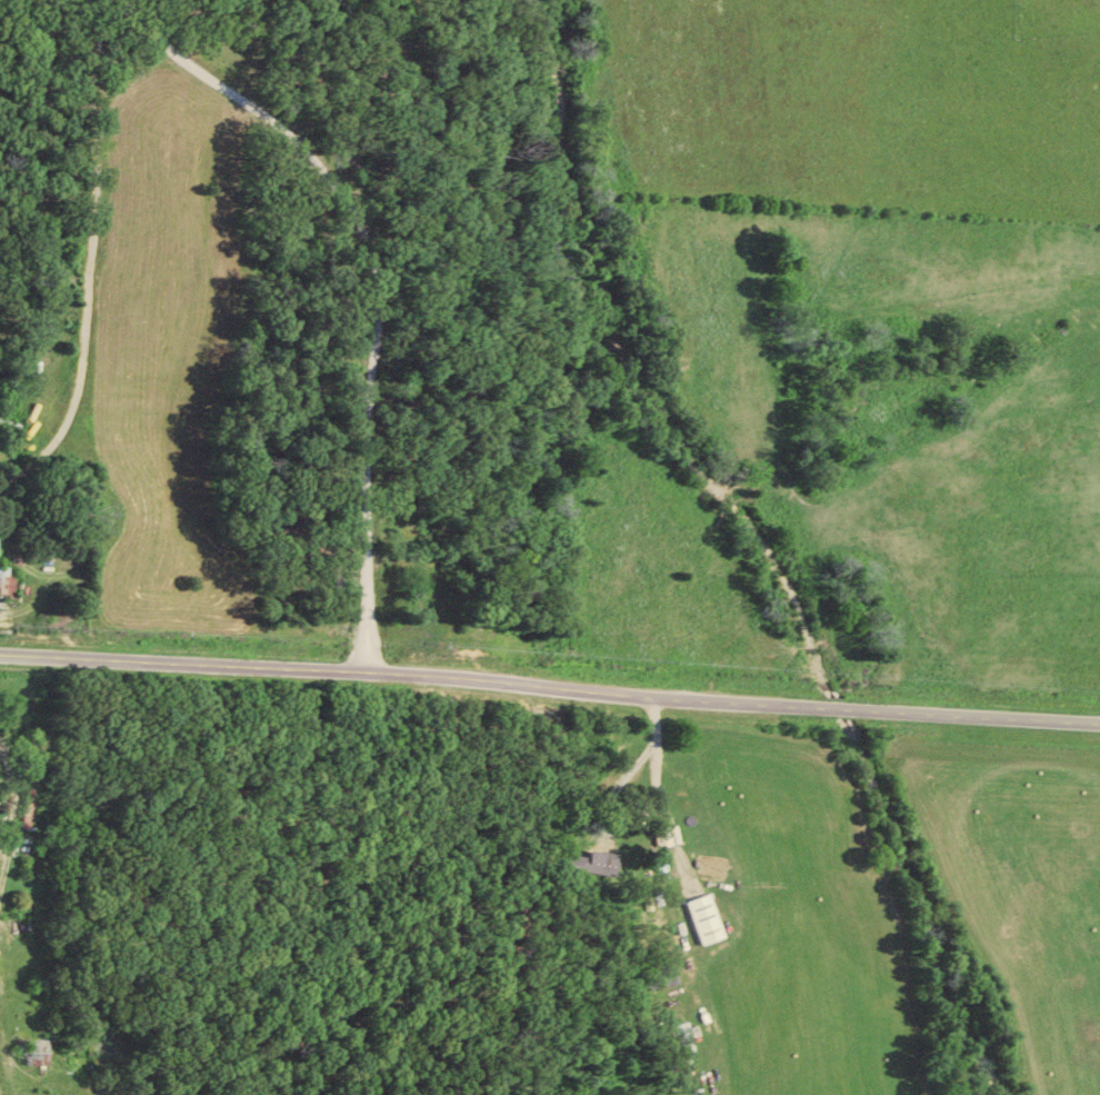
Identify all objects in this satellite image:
road: (1040, 358)
road: (363, 402)
building: (8, 581)
road: (550, 684)
building: (669, 834)
building: (598, 862)
building: (710, 917)
building: (670, 976)
building: (689, 1038)
building: (39, 1049)

